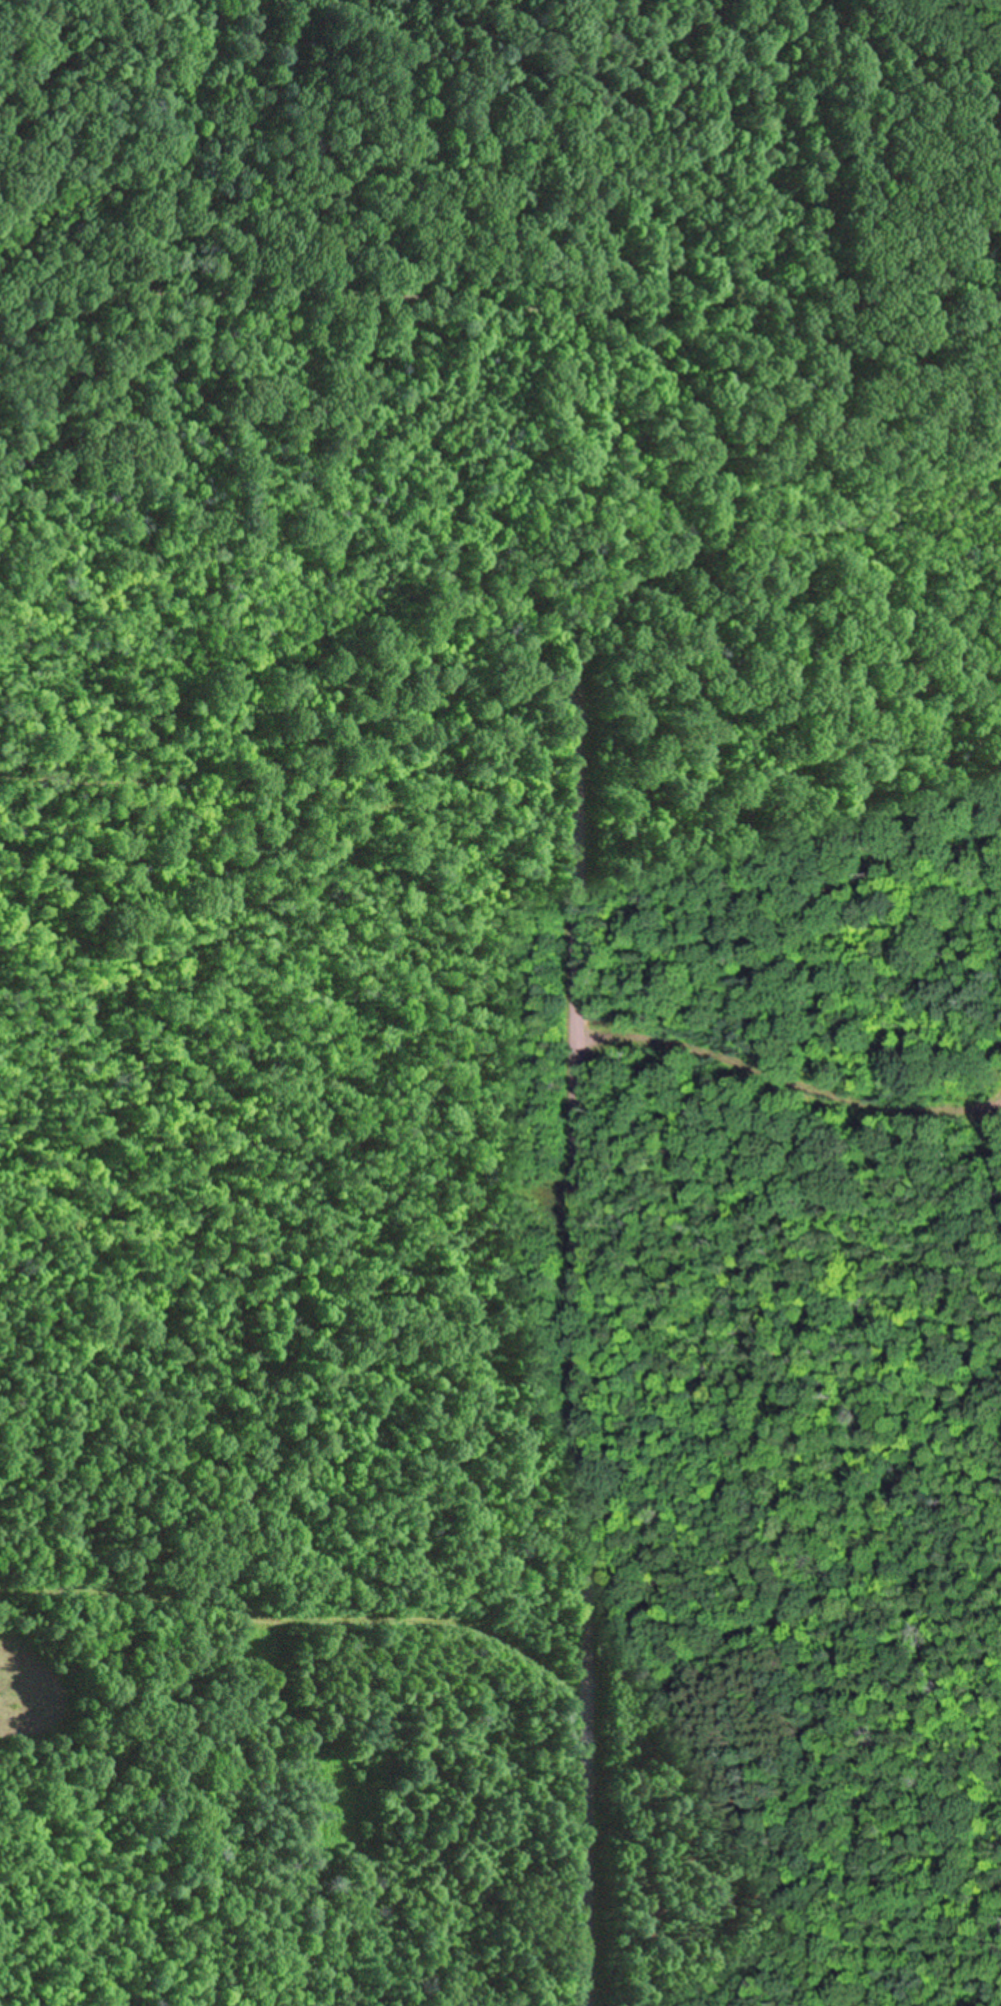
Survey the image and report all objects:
road: (588, 1287)

